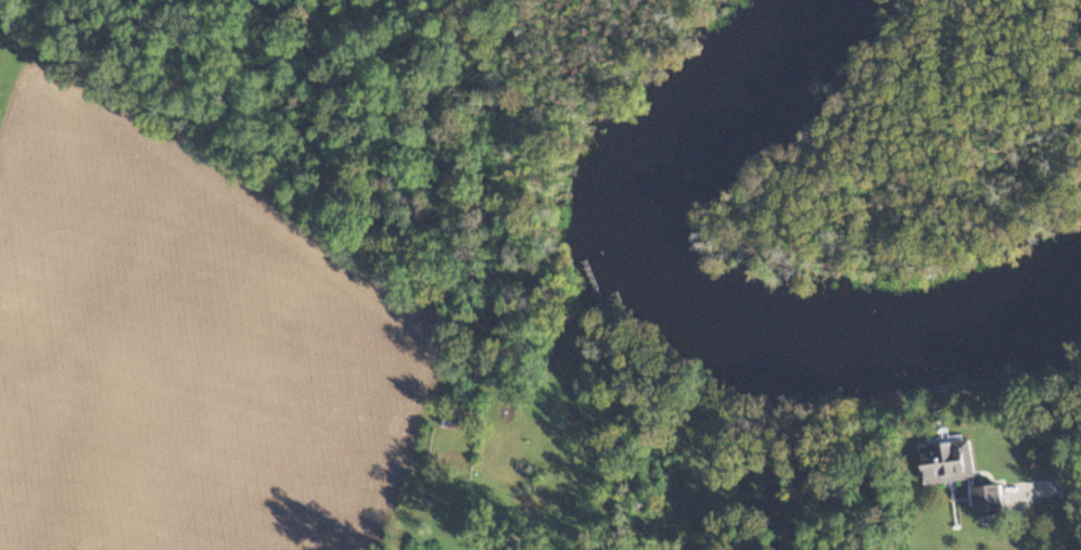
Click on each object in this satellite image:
park: (933, 142)
building: (943, 461)
building: (989, 500)
road: (1073, 506)

